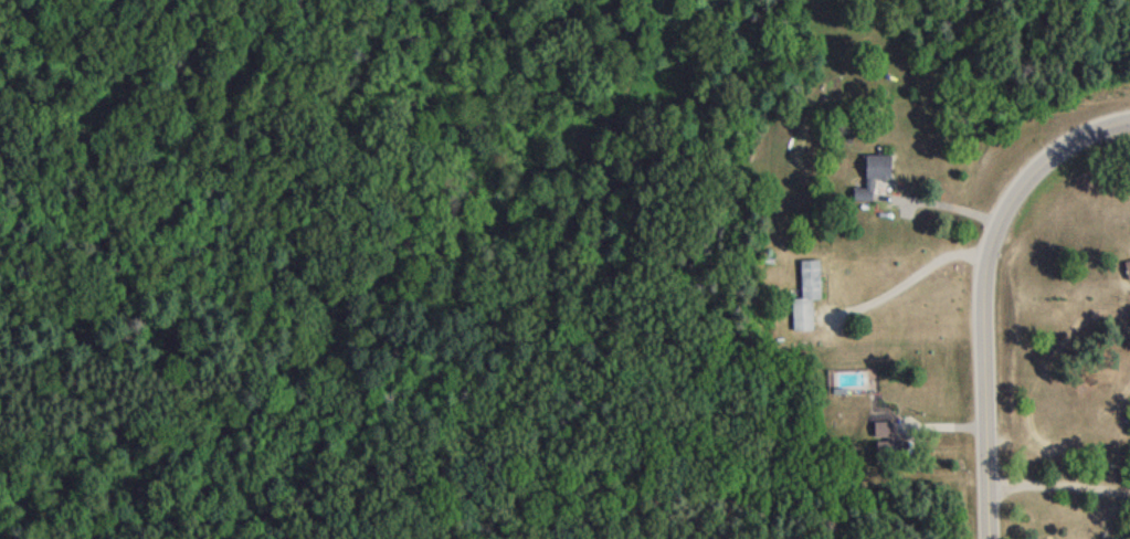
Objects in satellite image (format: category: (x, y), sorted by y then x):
building: (875, 173)
building: (1126, 275)
road: (905, 282)
road: (980, 290)
building: (804, 302)
building: (1129, 426)
building: (883, 437)
road: (1057, 489)

